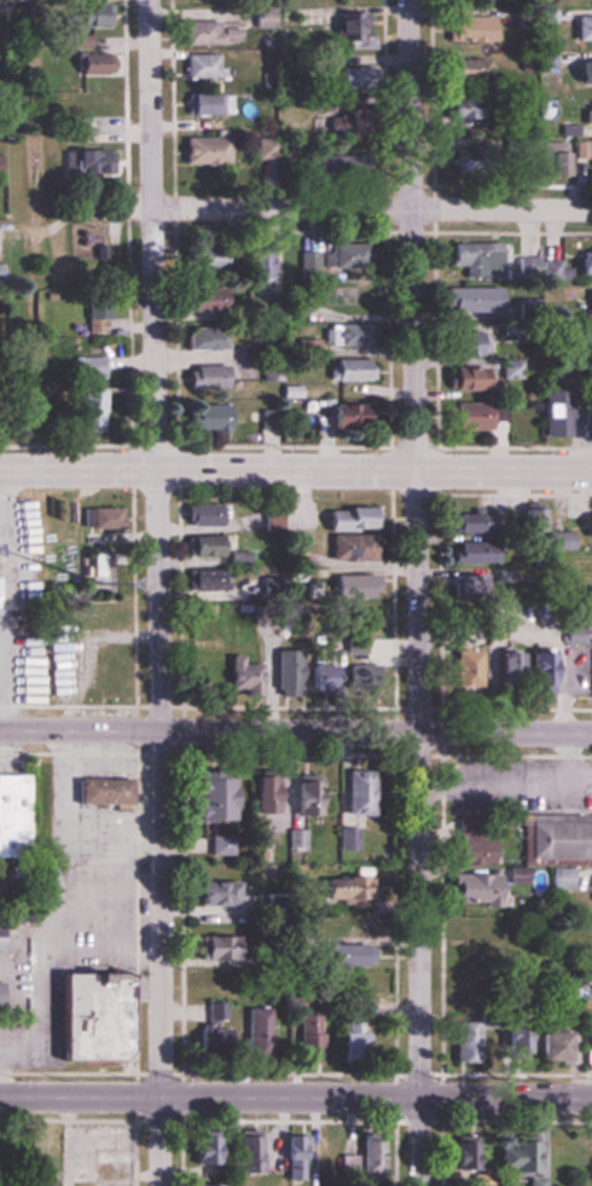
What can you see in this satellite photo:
building: (83, 12)
building: (261, 18)
building: (350, 27)
building: (581, 28)
building: (468, 29)
building: (207, 33)
building: (85, 65)
building: (202, 66)
building: (464, 70)
building: (581, 73)
building: (354, 88)
building: (203, 104)
building: (586, 114)
building: (462, 117)
building: (582, 149)
building: (266, 150)
building: (203, 151)
building: (325, 160)
building: (87, 161)
building: (552, 161)
building: (1, 166)
road: (371, 210)
building: (344, 255)
building: (472, 259)
building: (204, 260)
building: (259, 260)
building: (582, 262)
building: (201, 299)
building: (469, 300)
building: (587, 302)
building: (94, 319)
building: (347, 336)
building: (203, 339)
building: (466, 345)
building: (591, 345)
building: (307, 347)
building: (92, 368)
building: (350, 370)
building: (510, 370)
building: (203, 377)
building: (591, 378)
building: (468, 380)
building: (89, 409)
building: (551, 413)
building: (346, 415)
building: (587, 416)
building: (471, 417)
building: (203, 418)
road: (295, 471)
building: (199, 515)
building: (100, 517)
building: (528, 517)
building: (347, 519)
building: (271, 520)
building: (470, 523)
building: (586, 527)
building: (204, 546)
building: (348, 548)
building: (470, 554)
building: (587, 574)
building: (352, 588)
road: (159, 592)
road: (418, 592)
building: (364, 624)
building: (571, 635)
building: (95, 666)
building: (463, 670)
building: (500, 672)
building: (540, 672)
building: (202, 675)
building: (240, 676)
building: (301, 676)
building: (591, 677)
building: (358, 681)
road: (5, 729)
road: (301, 730)
building: (99, 791)
building: (265, 792)
building: (359, 793)
building: (304, 794)
building: (210, 798)
building: (10, 817)
building: (558, 838)
building: (470, 841)
building: (561, 879)
building: (346, 889)
building: (474, 889)
building: (591, 889)
building: (211, 893)
building: (342, 928)
building: (474, 930)
building: (217, 949)
building: (342, 955)
building: (466, 956)
building: (87, 1018)
building: (213, 1030)
building: (254, 1031)
building: (348, 1032)
building: (304, 1034)
building: (515, 1042)
building: (463, 1043)
building: (545, 1046)
road: (295, 1098)
building: (204, 1149)
building: (249, 1153)
building: (323, 1155)
building: (466, 1155)
building: (513, 1155)
building: (289, 1157)
building: (364, 1157)
building: (591, 1161)
building: (482, 1179)
building: (536, 1181)
building: (205, 1184)

